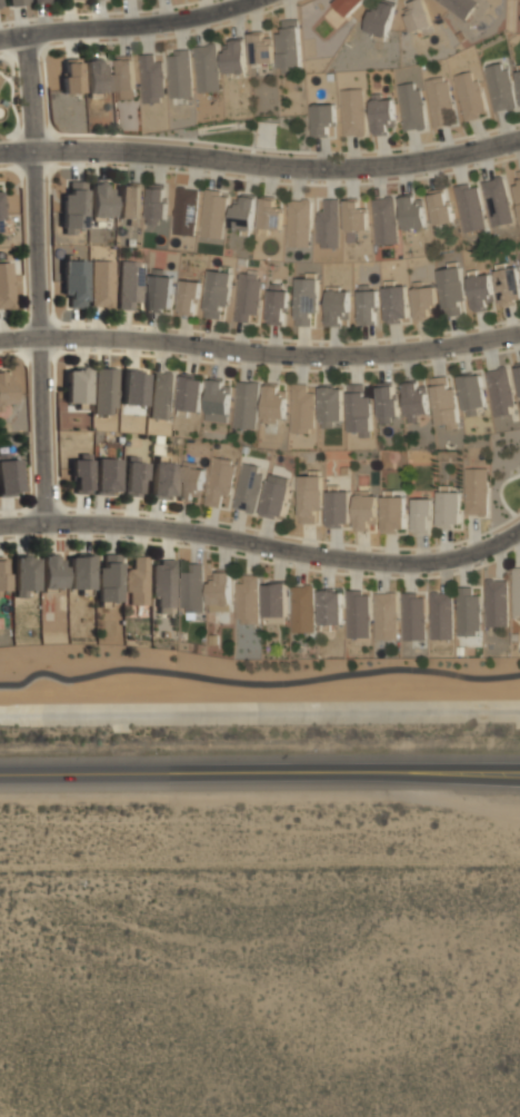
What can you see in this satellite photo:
building: (38, 0)
building: (17, 2)
building: (348, 6)
building: (459, 7)
building: (418, 17)
building: (380, 19)
road: (128, 24)
building: (260, 47)
building: (289, 47)
building: (234, 57)
building: (207, 68)
building: (179, 73)
building: (71, 75)
building: (96, 76)
building: (126, 77)
building: (151, 79)
building: (519, 82)
building: (500, 87)
building: (469, 95)
building: (439, 101)
building: (410, 106)
building: (352, 111)
building: (381, 113)
building: (323, 120)
road: (260, 165)
building: (517, 190)
building: (100, 199)
building: (497, 201)
building: (129, 202)
building: (157, 202)
building: (439, 206)
building: (73, 207)
building: (469, 207)
building: (186, 211)
building: (412, 211)
building: (243, 212)
building: (1, 214)
building: (213, 214)
building: (270, 214)
building: (354, 218)
building: (384, 220)
building: (299, 223)
building: (328, 224)
building: (519, 256)
road: (39, 277)
building: (74, 283)
building: (102, 283)
building: (130, 284)
building: (6, 285)
building: (508, 285)
building: (159, 290)
building: (451, 290)
building: (480, 290)
building: (217, 293)
building: (247, 296)
building: (188, 297)
building: (306, 300)
building: (423, 300)
building: (396, 304)
building: (276, 305)
building: (367, 305)
building: (337, 307)
road: (260, 354)
building: (519, 375)
building: (77, 385)
building: (133, 387)
building: (6, 388)
building: (103, 391)
building: (500, 391)
building: (471, 393)
building: (161, 395)
building: (414, 399)
building: (218, 401)
building: (386, 401)
building: (273, 403)
building: (444, 403)
building: (246, 404)
building: (330, 405)
building: (302, 409)
building: (359, 411)
building: (9, 474)
building: (81, 474)
building: (107, 475)
building: (133, 476)
building: (190, 478)
building: (163, 480)
building: (219, 482)
building: (248, 487)
building: (476, 491)
building: (276, 496)
building: (309, 497)
building: (338, 507)
building: (448, 508)
building: (364, 511)
building: (393, 514)
building: (421, 515)
road: (263, 545)
building: (52, 571)
building: (80, 571)
building: (24, 574)
building: (2, 575)
building: (109, 579)
building: (137, 581)
building: (163, 584)
building: (191, 589)
building: (516, 591)
building: (220, 592)
building: (274, 599)
building: (248, 600)
building: (496, 602)
building: (330, 605)
building: (302, 609)
building: (468, 612)
building: (358, 613)
building: (386, 615)
building: (440, 615)
building: (412, 616)
road: (257, 683)
road: (260, 773)

